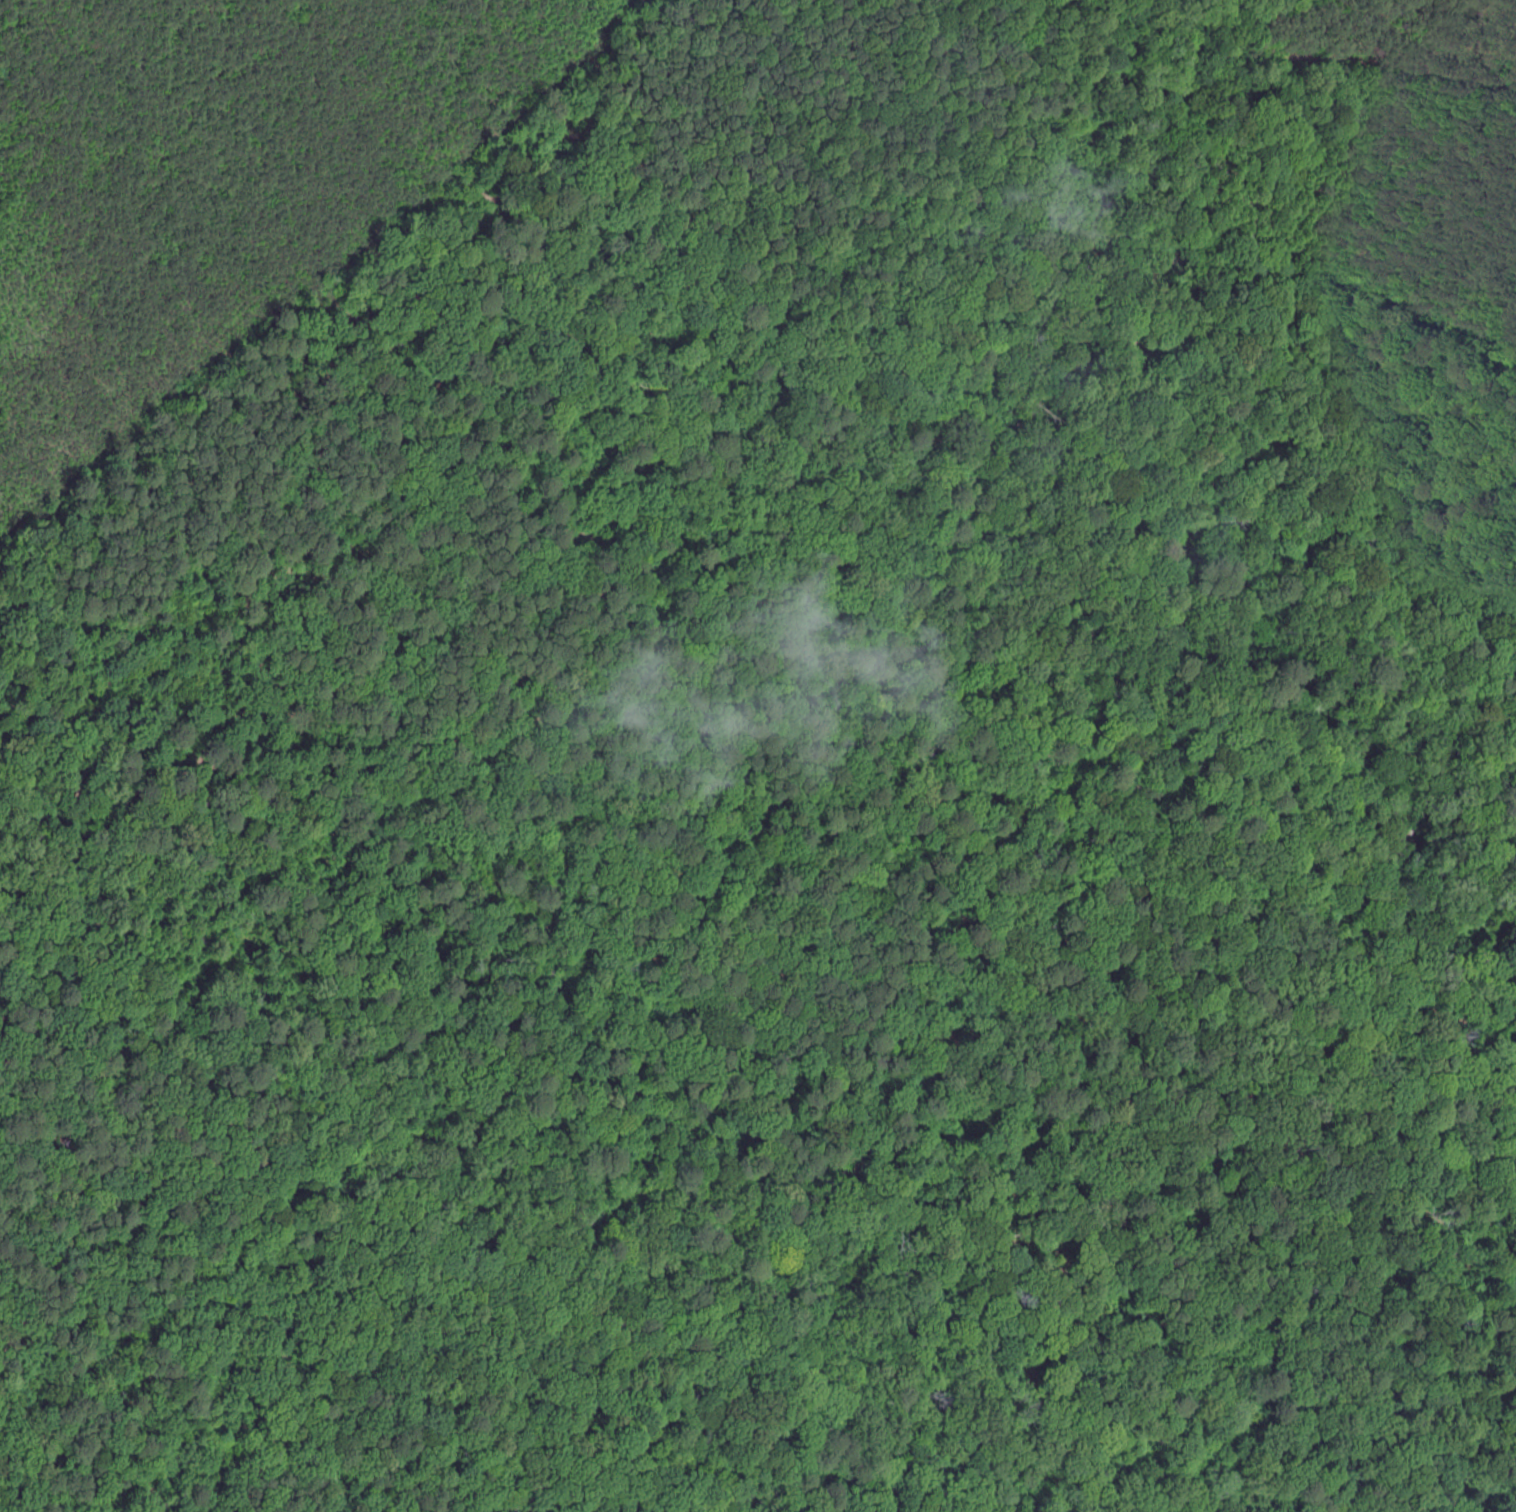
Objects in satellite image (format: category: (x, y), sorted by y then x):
road: (840, 877)
park: (769, 894)

